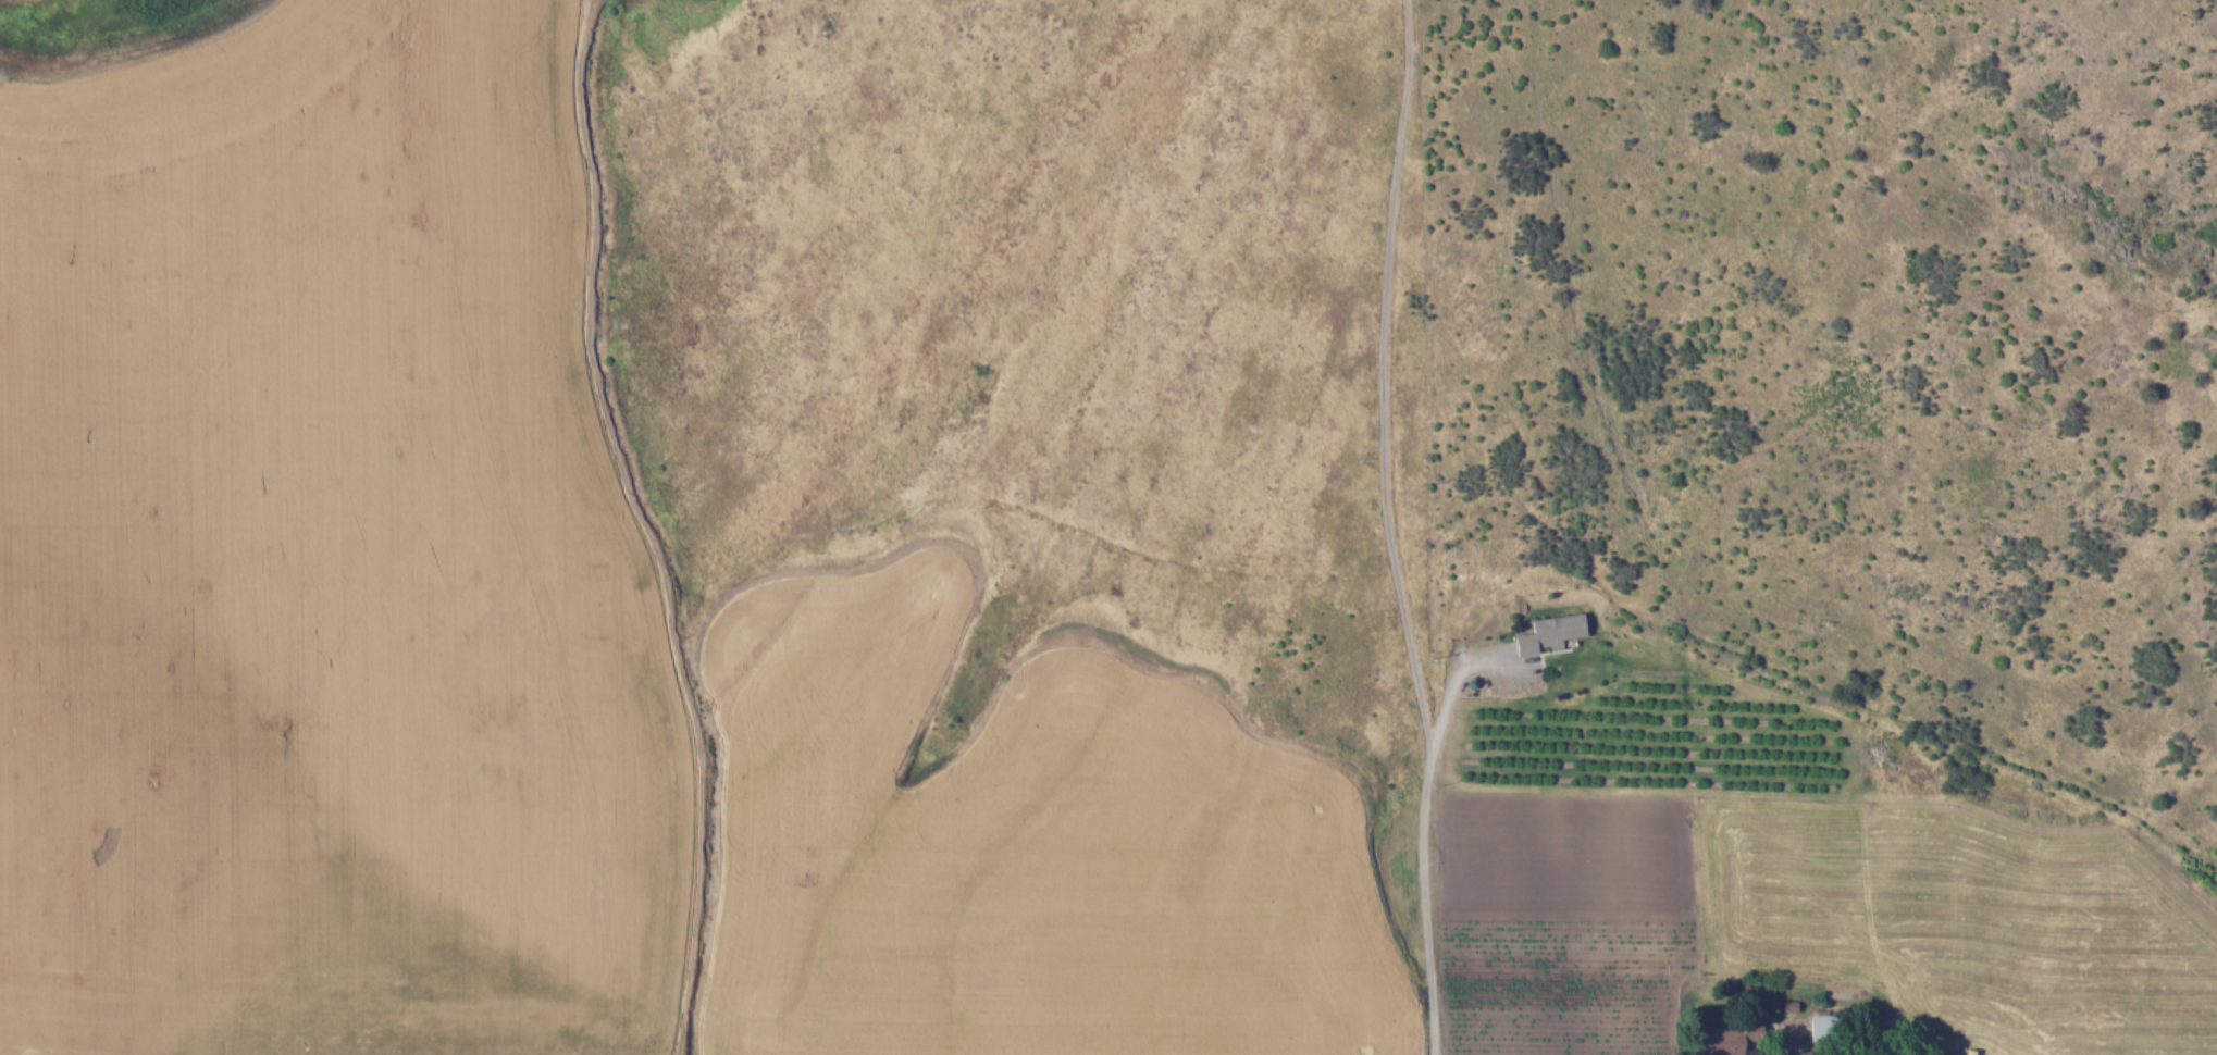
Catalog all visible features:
road: (1395, 526)
building: (1549, 631)
crop: (1614, 906)
building: (1819, 1027)
building: (1770, 1029)
building: (1721, 1041)

